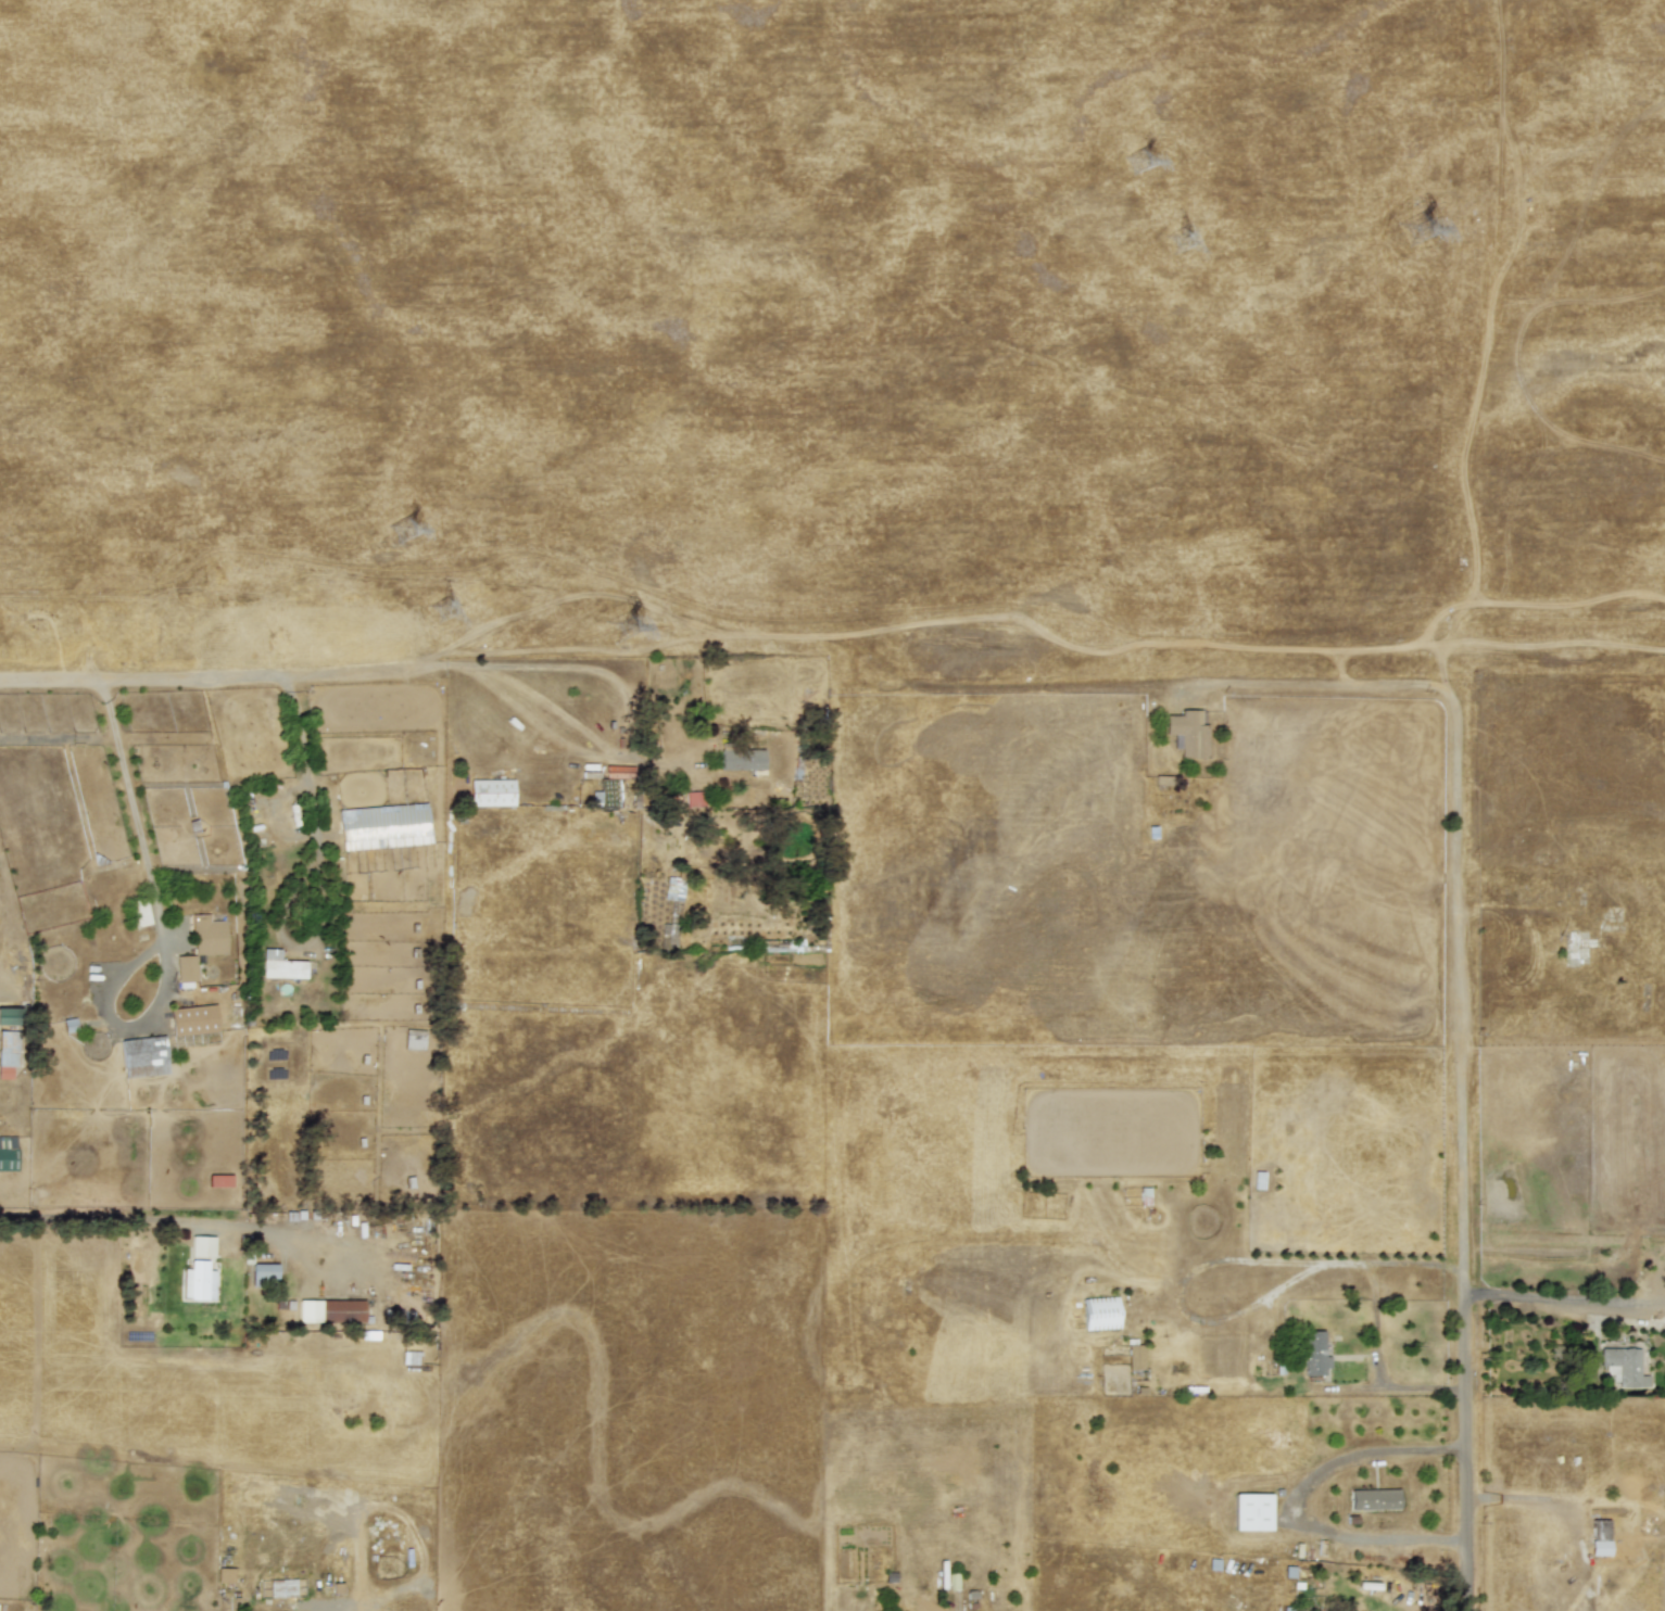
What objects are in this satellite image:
power tower: (1145, 163)
power tower: (1422, 233)
power tower: (1183, 243)
power tower: (407, 533)
power tower: (449, 612)
power tower: (631, 630)
road: (517, 665)
road: (222, 677)
road: (1324, 681)
building: (1187, 733)
building: (740, 757)
building: (491, 792)
building: (694, 799)
building: (383, 826)
road: (139, 839)
building: (674, 888)
building: (140, 912)
building: (207, 936)
building: (280, 966)
building: (186, 968)
building: (9, 1016)
building: (193, 1019)
building: (414, 1039)
building: (8, 1049)
building: (142, 1057)
road: (1460, 1129)
building: (7, 1153)
building: (219, 1180)
road: (144, 1217)
building: (201, 1246)
road: (1412, 1265)
building: (263, 1271)
building: (198, 1281)
road: (1565, 1299)
building: (341, 1310)
building: (1099, 1312)
road: (1376, 1321)
building: (1314, 1354)
building: (1135, 1357)
building: (1623, 1366)
building: (1374, 1498)
road: (1295, 1501)
building: (1252, 1511)
building: (1600, 1537)
building: (225, 1575)
road: (1472, 1584)
building: (282, 1587)

